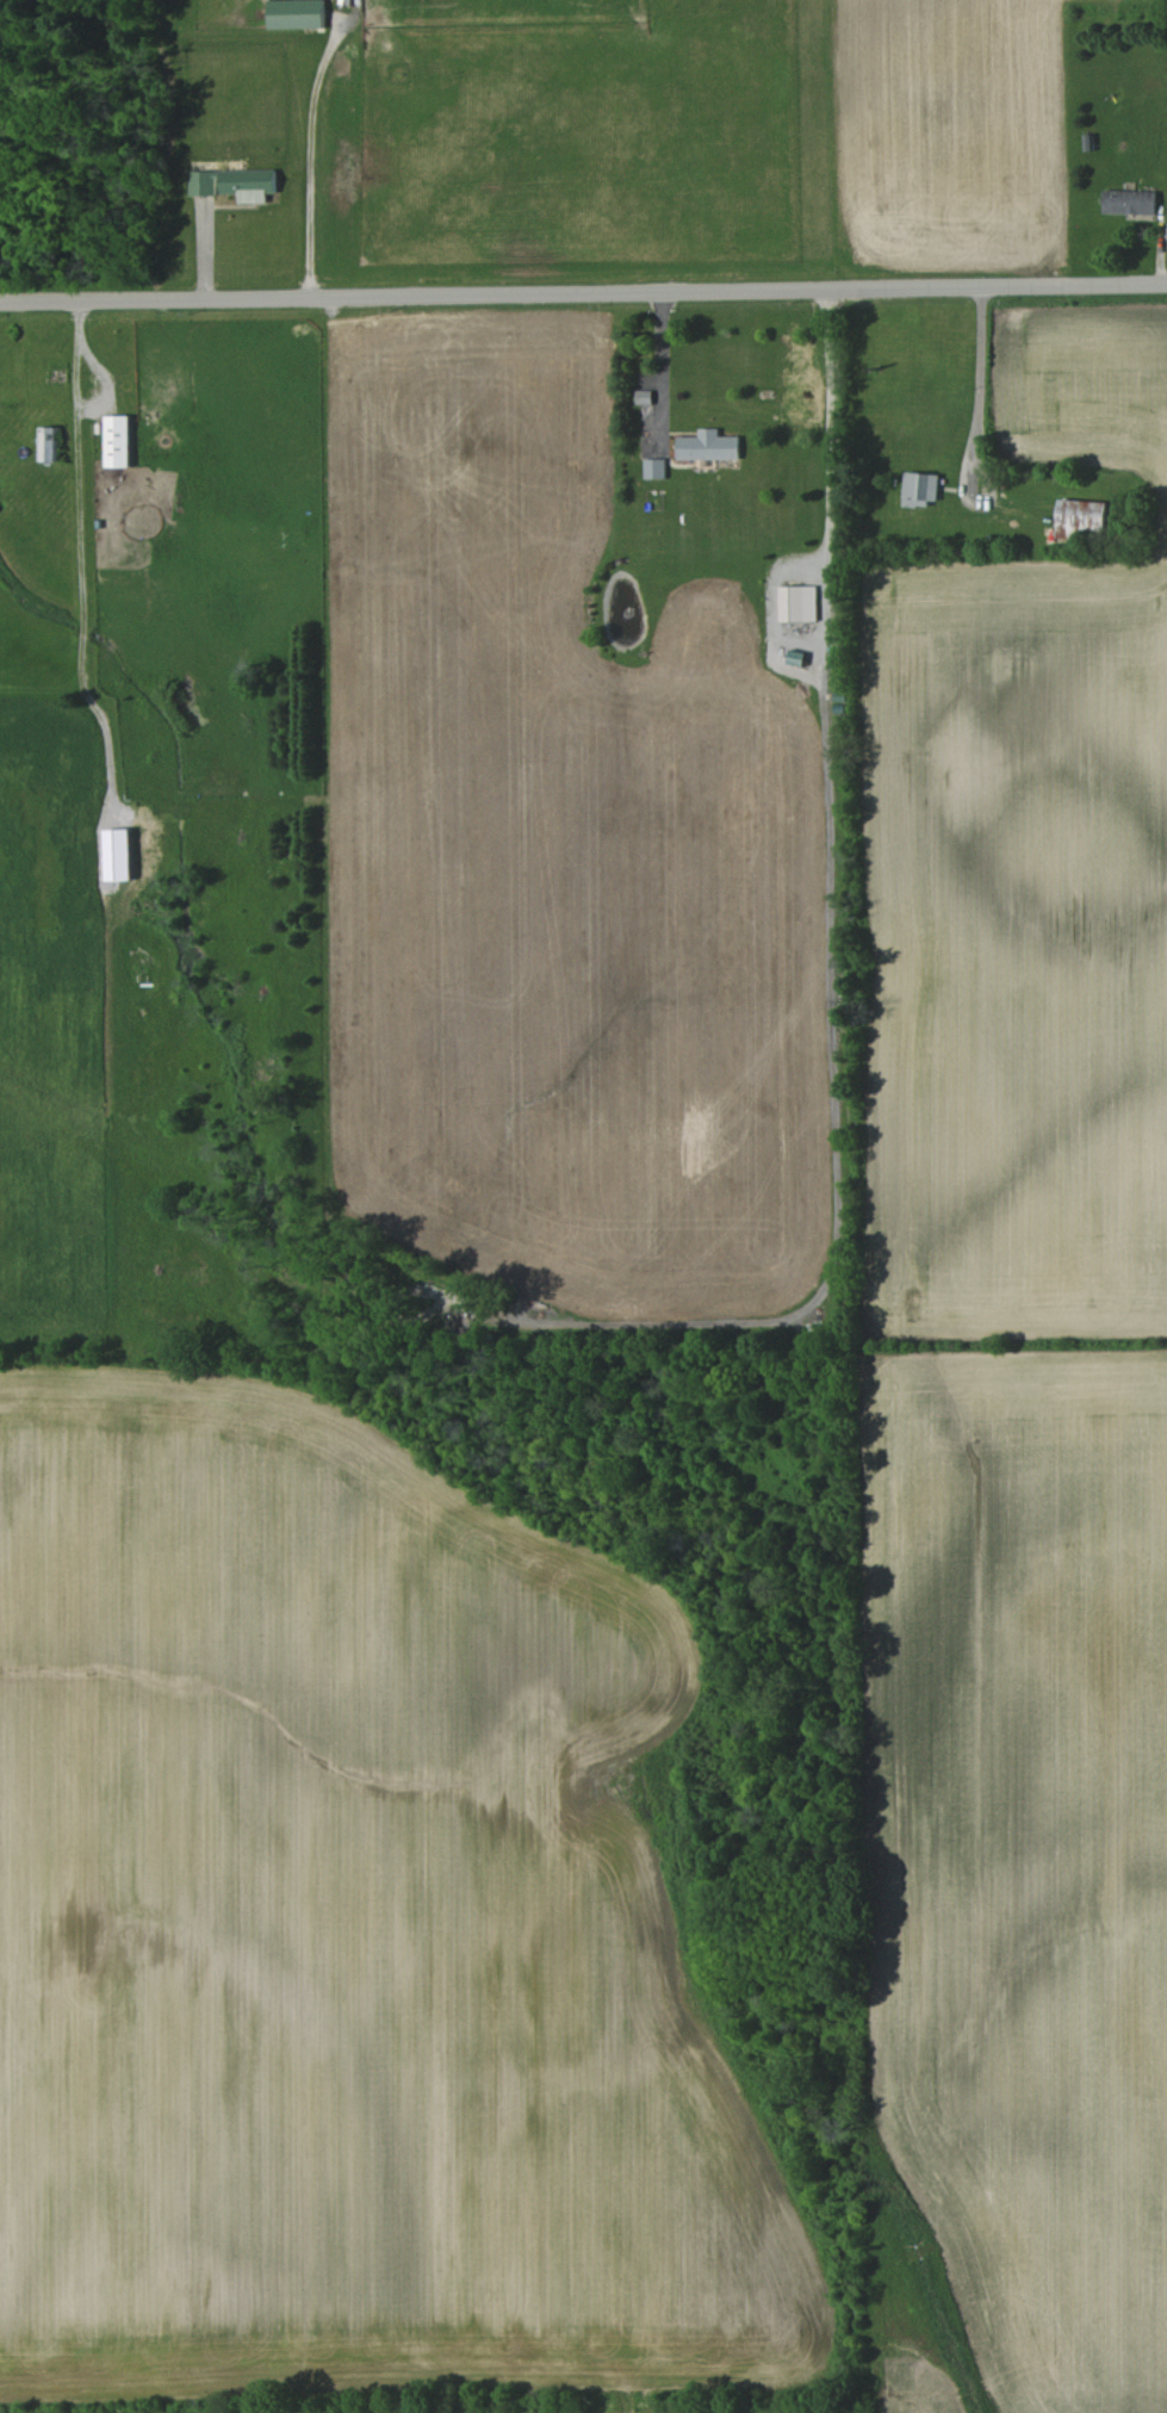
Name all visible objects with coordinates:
building: (296, 13)
road: (310, 160)
building: (235, 184)
building: (1130, 201)
road: (583, 293)
road: (662, 367)
road: (976, 426)
building: (118, 441)
building: (49, 443)
building: (708, 446)
building: (654, 469)
building: (921, 489)
building: (1080, 516)
building: (799, 603)
building: (119, 854)
road: (833, 993)

